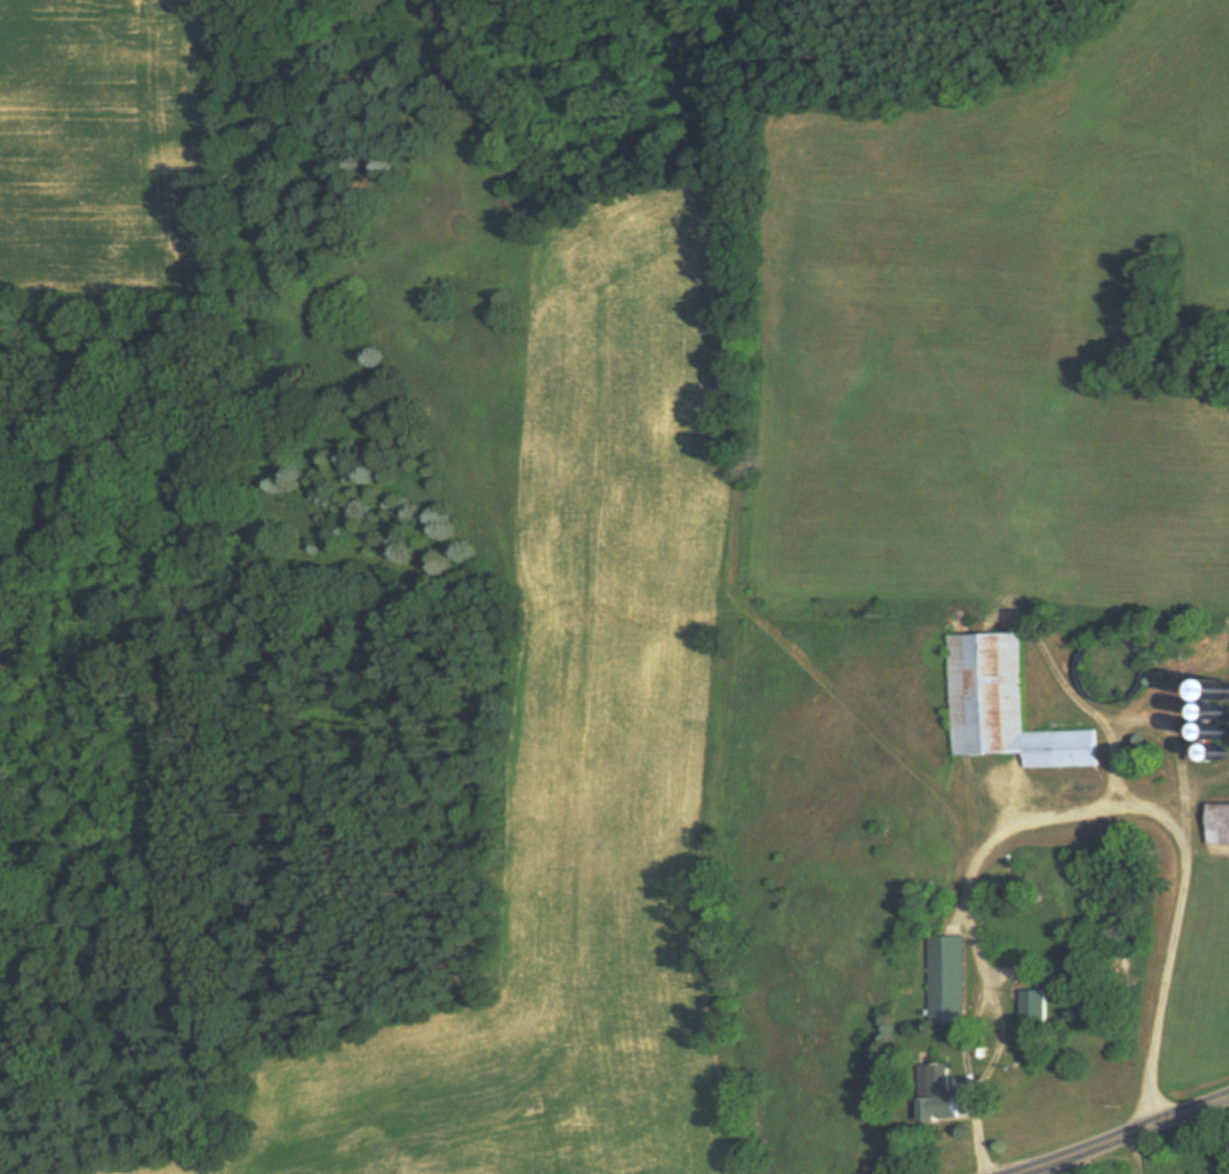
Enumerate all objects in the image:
building: (1003, 705)
road: (1109, 720)
building: (1210, 726)
road: (1066, 822)
building: (1218, 824)
building: (944, 978)
building: (1032, 1006)
building: (937, 1093)
road: (1138, 1138)

